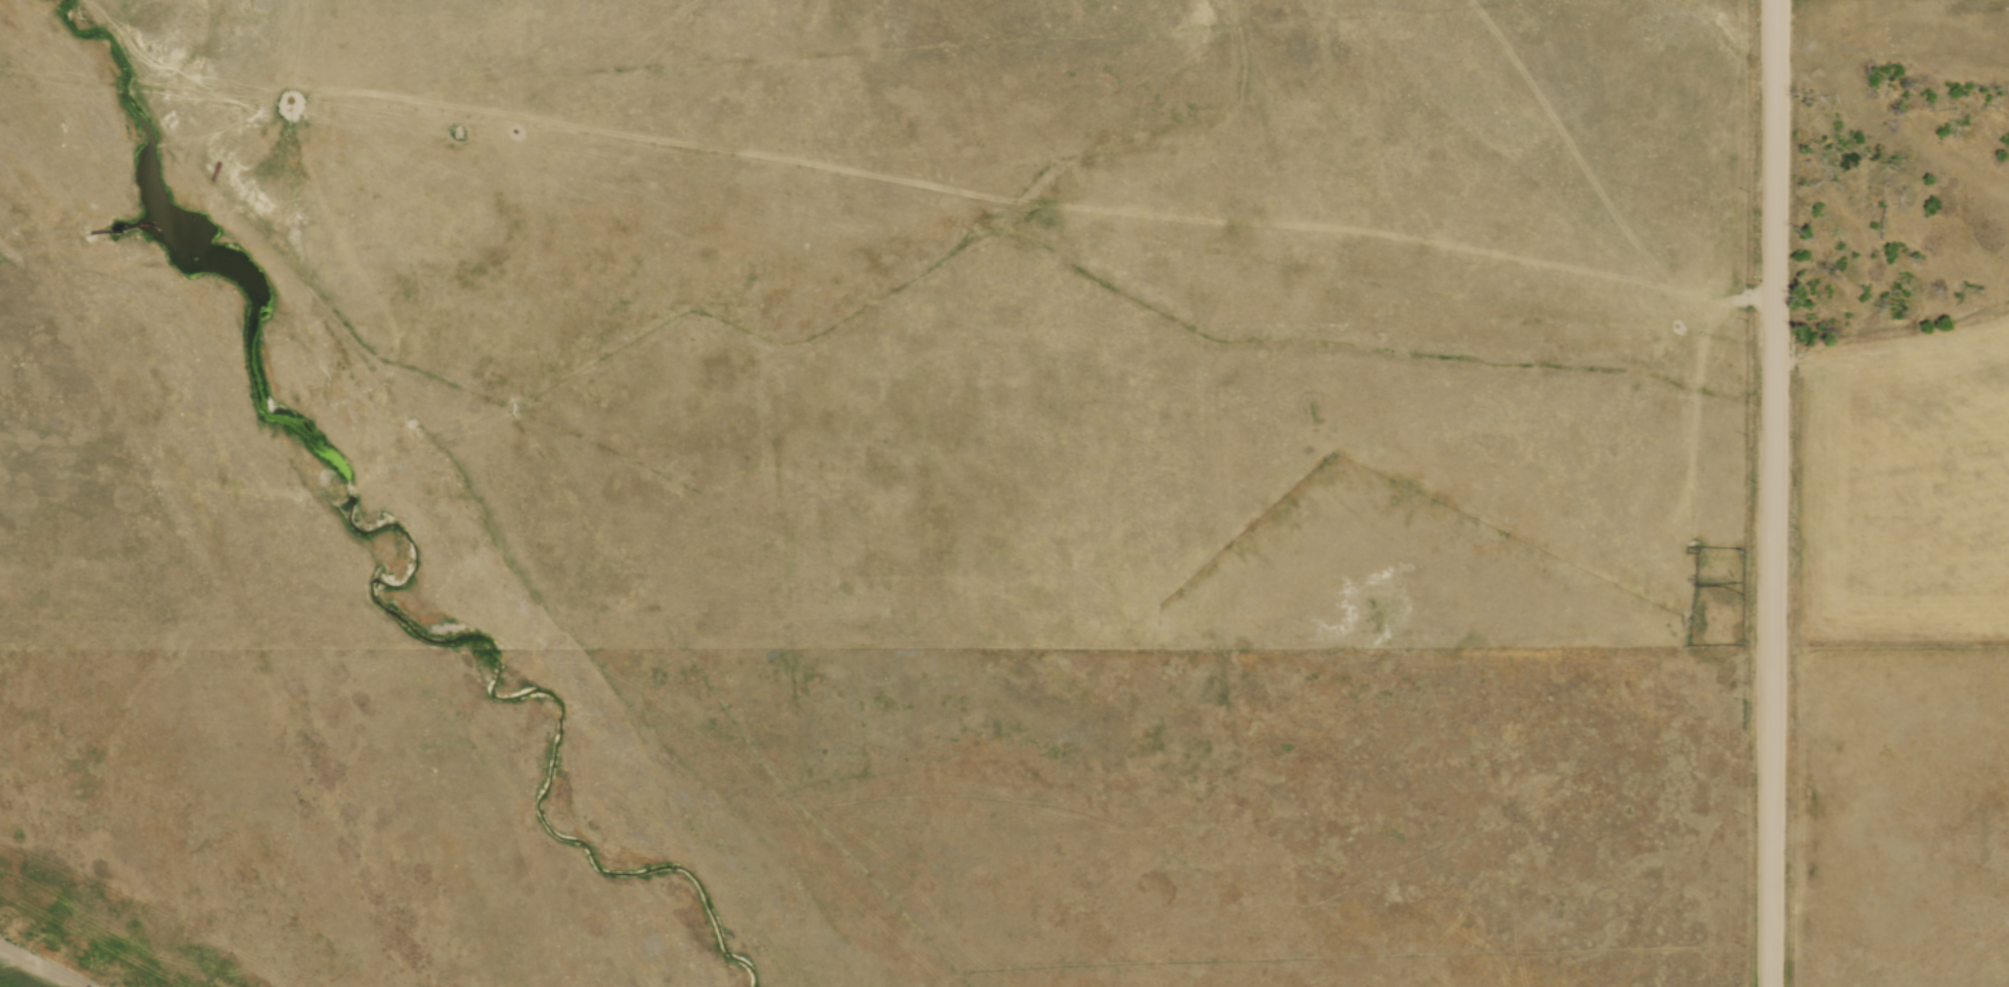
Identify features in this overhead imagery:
road: (1780, 493)

